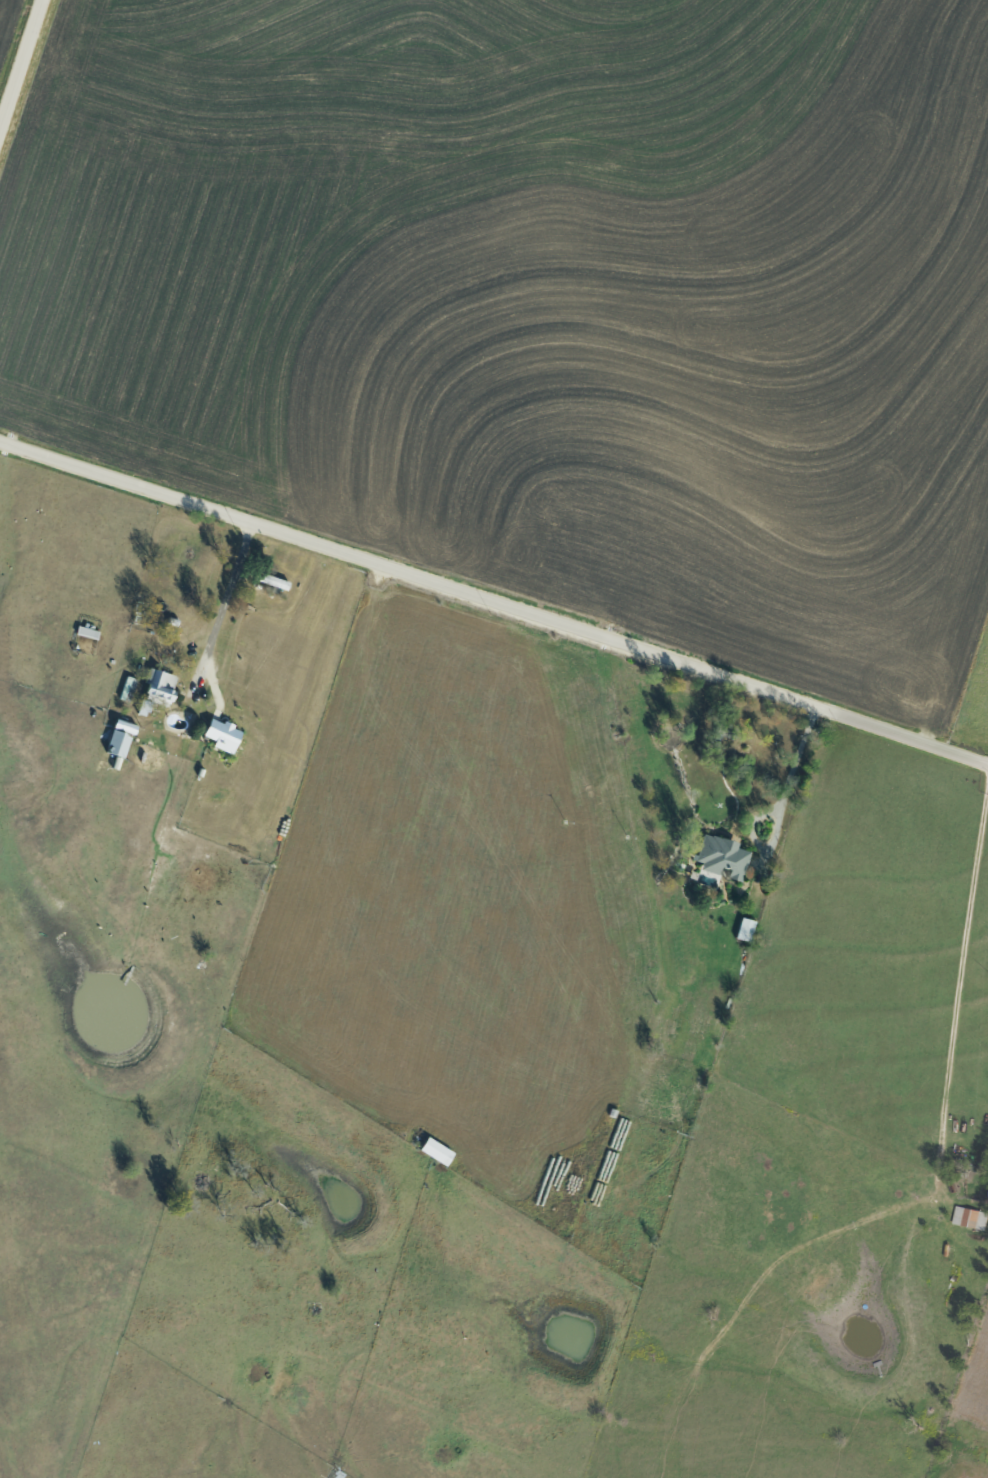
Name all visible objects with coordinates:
road: (22, 66)
road: (223, 597)
road: (493, 603)
building: (87, 631)
building: (162, 687)
building: (223, 735)
building: (119, 743)
road: (790, 779)
building: (723, 855)
building: (745, 928)
building: (438, 1150)
building: (970, 1217)

